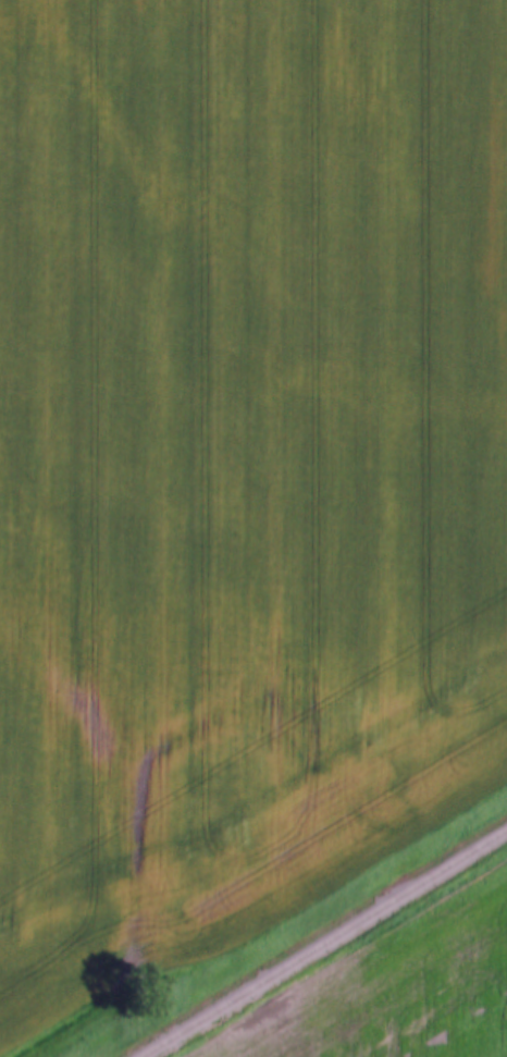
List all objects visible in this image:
railway: (324, 944)

